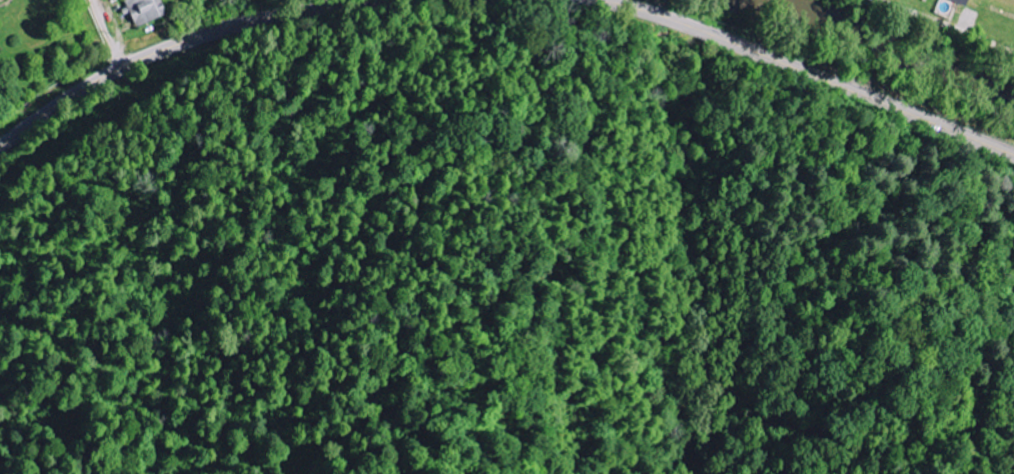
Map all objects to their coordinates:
building: (960, 1)
building: (147, 10)
road: (950, 24)
road: (107, 34)
road: (183, 42)
river: (907, 47)
road: (808, 72)

